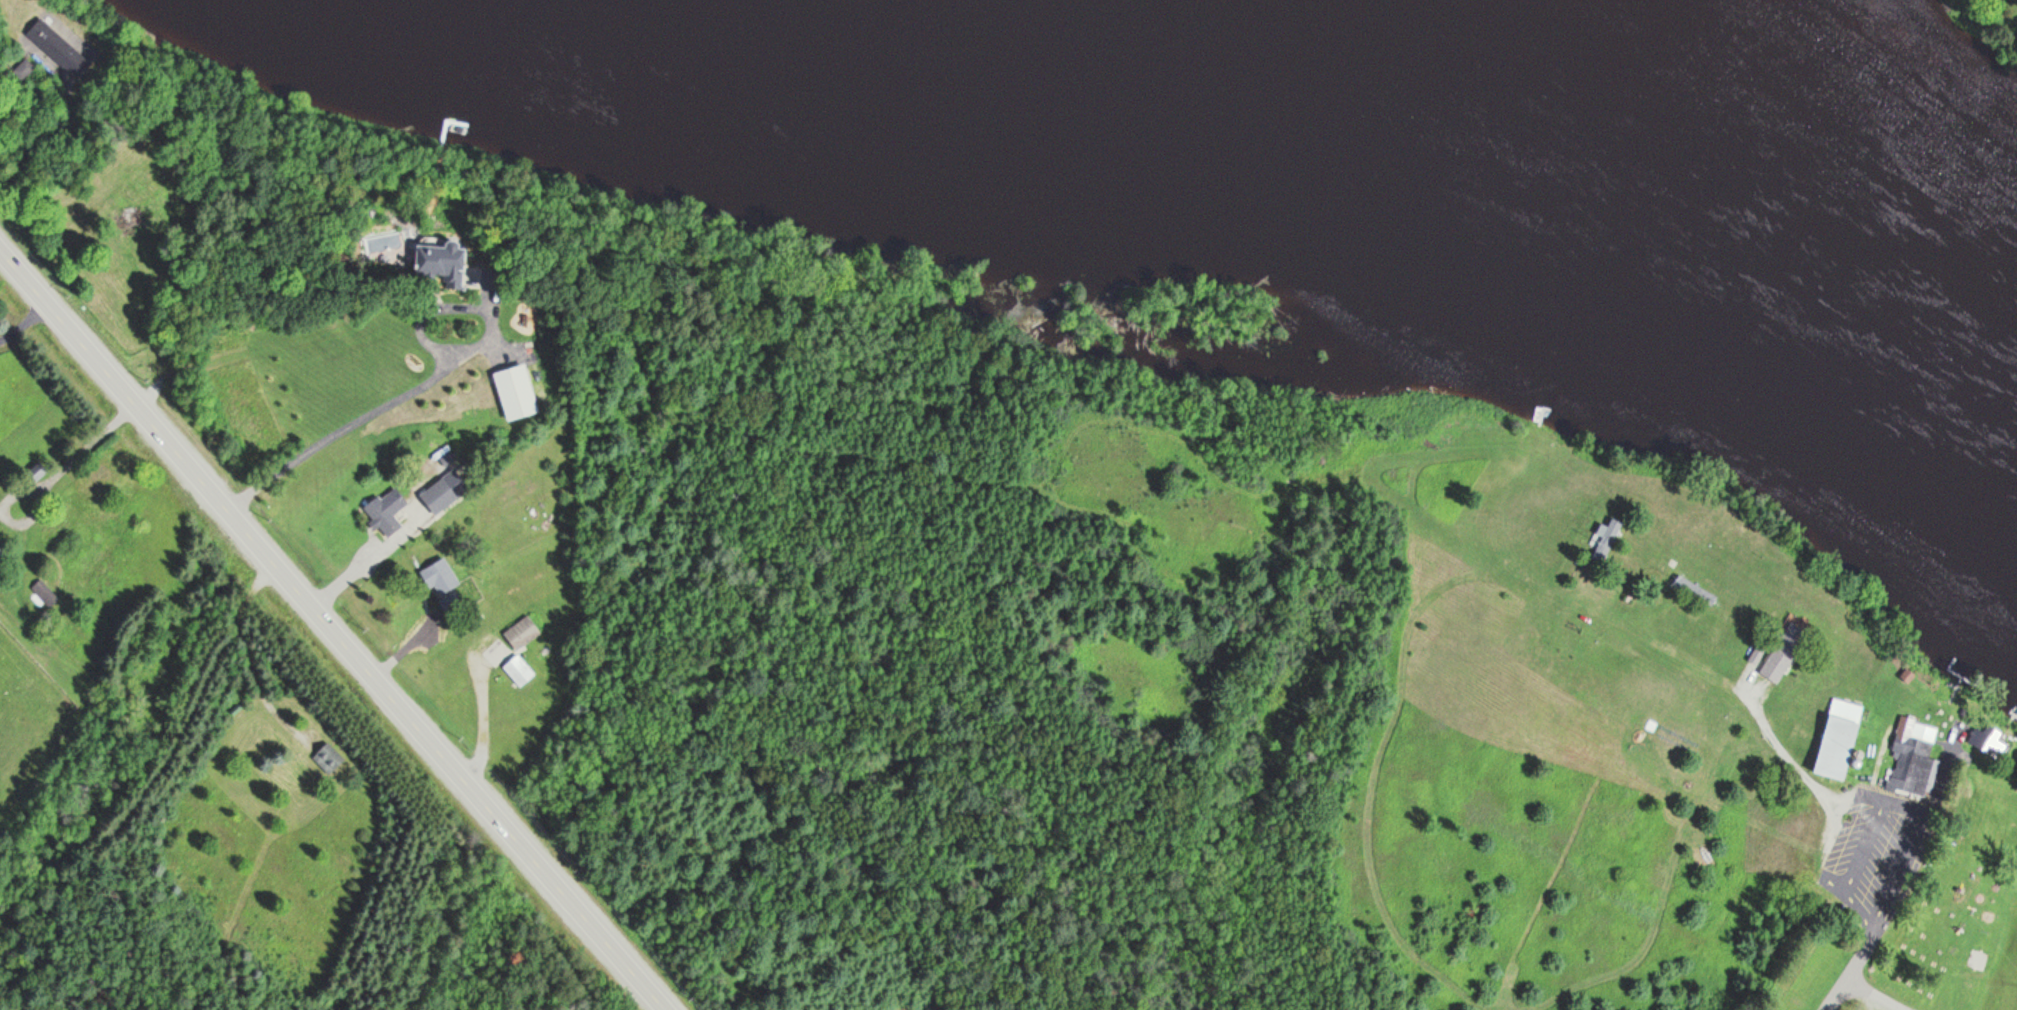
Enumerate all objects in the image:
building: (44, 36)
building: (23, 69)
river: (1419, 108)
building: (419, 255)
building: (512, 392)
road: (370, 418)
building: (32, 472)
building: (434, 496)
building: (384, 510)
building: (1605, 537)
building: (436, 578)
building: (43, 592)
road: (332, 629)
building: (520, 633)
building: (1774, 662)
building: (517, 670)
building: (1833, 739)
building: (1982, 741)
building: (1910, 747)
building: (326, 757)
road: (1874, 925)
road: (1876, 993)

